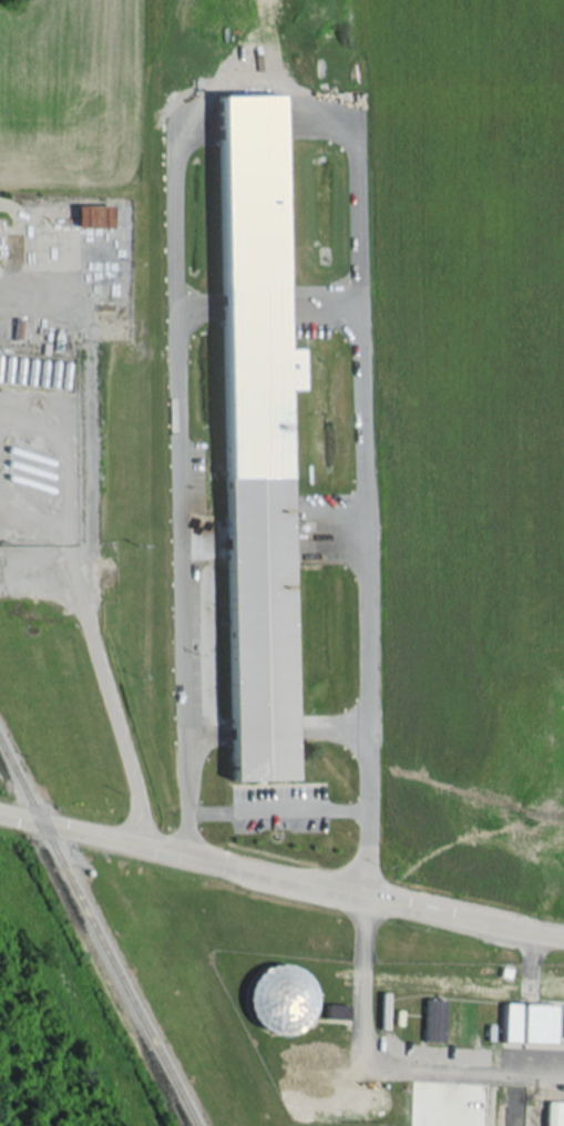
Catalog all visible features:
building: (94, 215)
building: (255, 433)
road: (358, 474)
road: (173, 497)
road: (91, 638)
road: (346, 809)
road: (281, 877)
railway: (96, 932)
building: (278, 997)
storage tank: (278, 997)
building: (336, 1011)
wastewater plant: (346, 1018)
building: (432, 1020)
building: (527, 1022)
road: (382, 1066)

